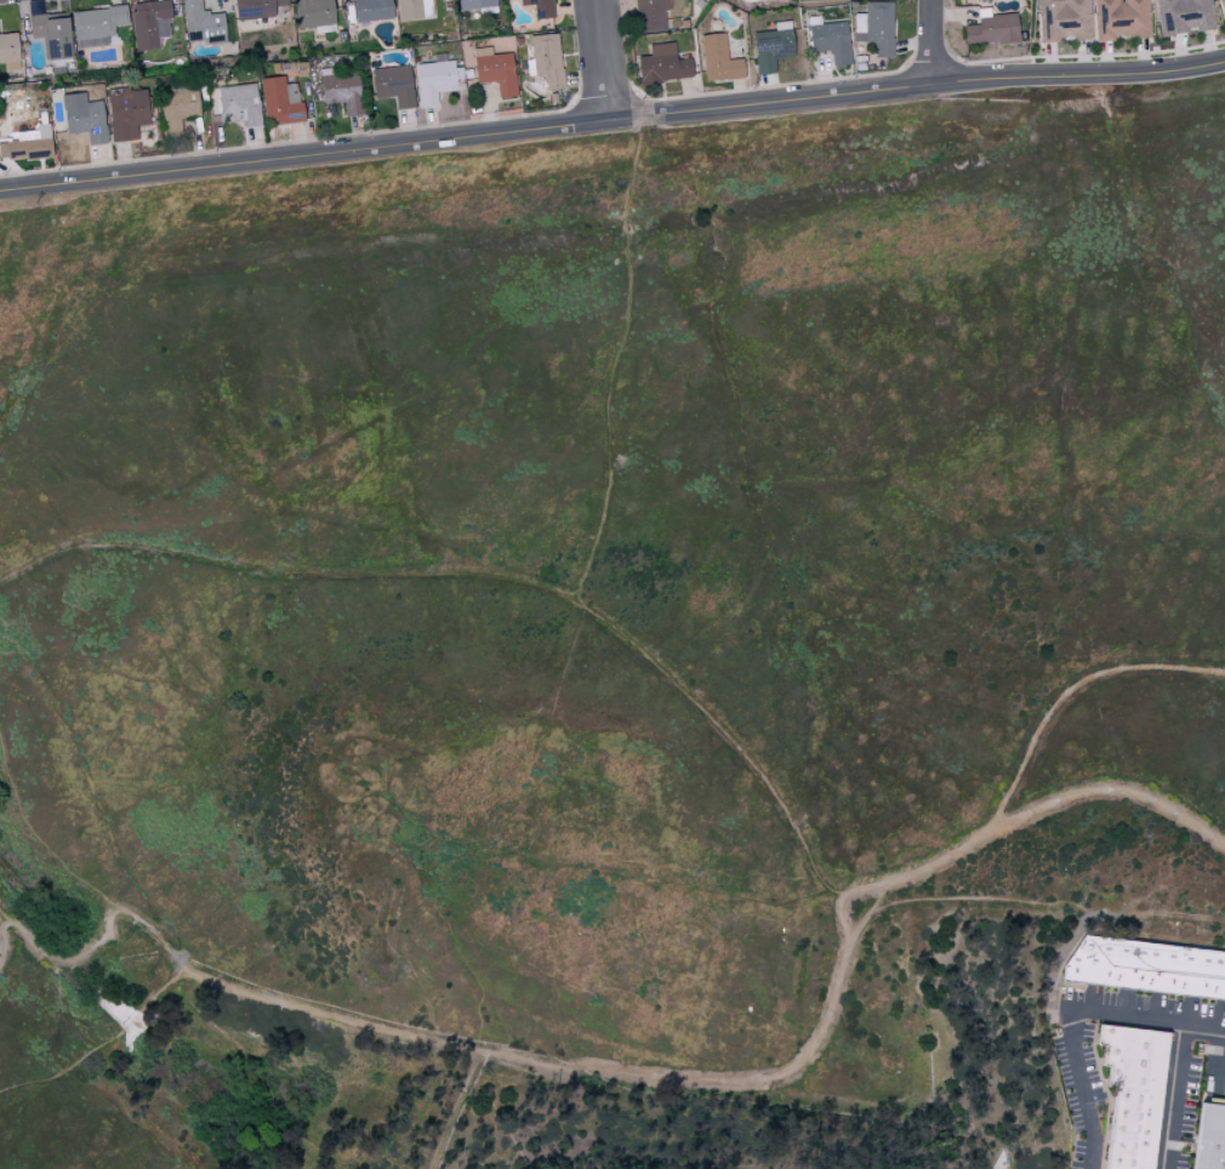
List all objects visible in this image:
building: (1223, 5)
building: (473, 6)
building: (541, 7)
building: (257, 8)
building: (415, 8)
building: (374, 10)
building: (315, 13)
building: (651, 15)
building: (1186, 16)
building: (1123, 18)
building: (1066, 19)
building: (152, 23)
building: (204, 23)
building: (98, 25)
building: (877, 28)
building: (993, 28)
building: (53, 34)
building: (831, 39)
road: (929, 41)
building: (774, 47)
building: (10, 51)
building: (548, 59)
building: (720, 59)
road: (599, 61)
building: (665, 64)
building: (496, 70)
building: (437, 80)
building: (394, 85)
road: (916, 85)
building: (342, 90)
building: (283, 101)
building: (241, 103)
building: (180, 106)
building: (129, 113)
building: (86, 118)
building: (29, 144)
road: (303, 156)
road: (1072, 689)
road: (842, 895)
road: (1, 913)
building: (1146, 968)
road: (1069, 1014)
road: (104, 1047)
road: (626, 1072)
building: (1133, 1094)
road: (1170, 1097)
building: (1209, 1137)

